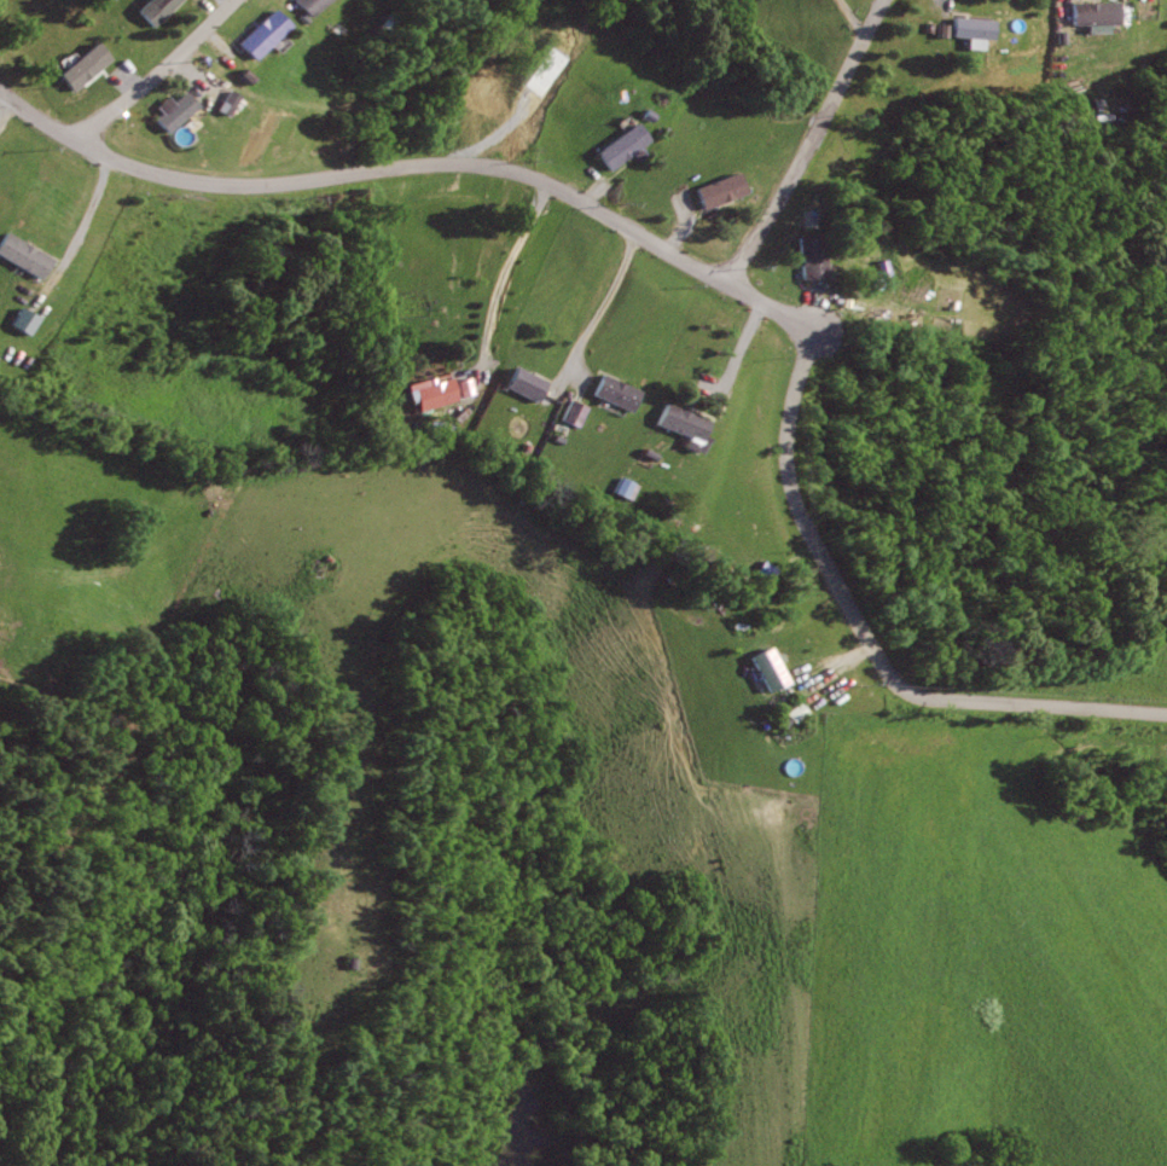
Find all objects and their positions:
road: (226, 2)
building: (310, 5)
road: (1150, 7)
road: (207, 8)
building: (155, 10)
building: (1098, 12)
road: (947, 14)
road: (857, 19)
building: (977, 28)
building: (265, 33)
road: (220, 45)
building: (76, 66)
road: (155, 74)
building: (245, 76)
road: (181, 77)
road: (5, 109)
building: (178, 110)
road: (809, 143)
building: (621, 146)
road: (367, 169)
road: (603, 187)
building: (719, 191)
road: (82, 226)
road: (678, 233)
building: (25, 255)
building: (811, 255)
road: (497, 286)
road: (771, 307)
road: (814, 308)
road: (596, 318)
building: (19, 320)
road: (742, 359)
building: (528, 383)
building: (459, 387)
building: (620, 390)
building: (436, 393)
building: (575, 412)
building: (681, 422)
building: (329, 569)
building: (677, 579)
road: (864, 638)
road: (838, 667)
building: (772, 668)
building: (785, 696)
building: (799, 712)
building: (350, 963)

